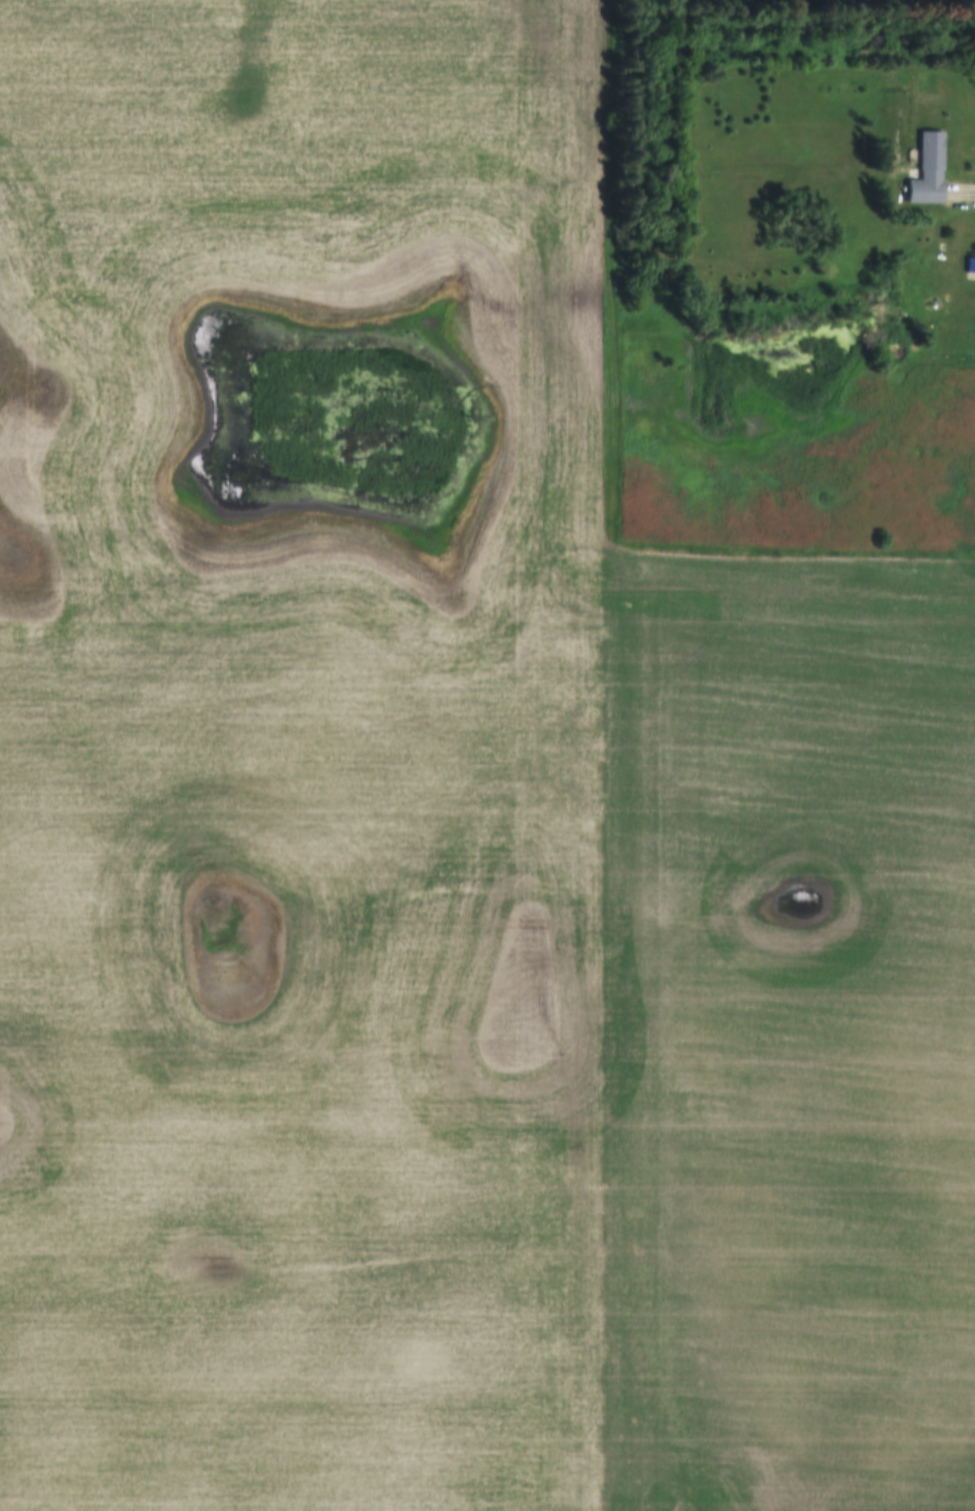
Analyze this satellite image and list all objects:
building: (927, 173)
building: (970, 266)
road: (614, 347)

